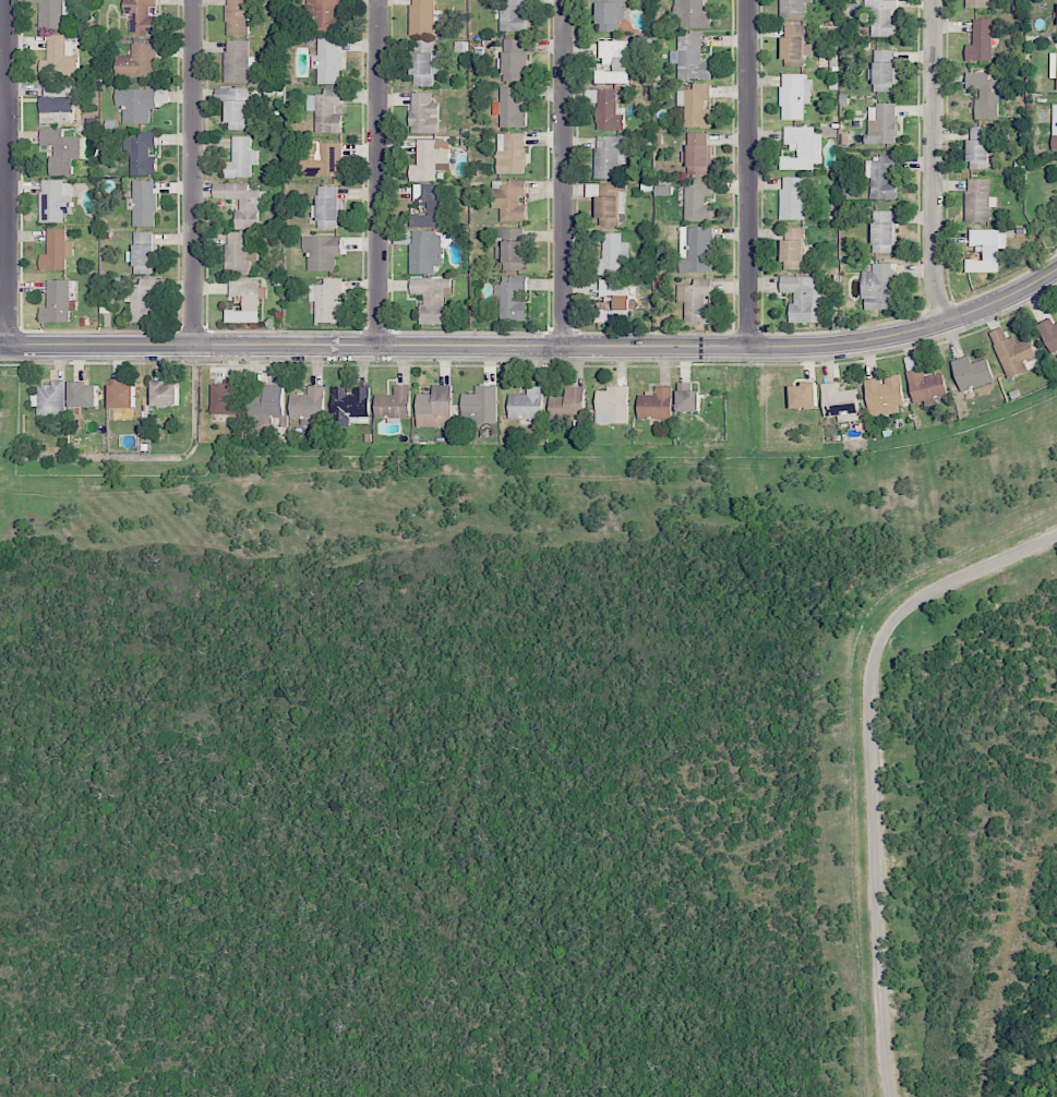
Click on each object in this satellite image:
building: (978, 3)
building: (793, 8)
building: (694, 12)
building: (52, 13)
building: (609, 13)
building: (323, 15)
building: (513, 15)
building: (141, 16)
building: (423, 16)
building: (881, 16)
building: (238, 17)
building: (981, 40)
building: (795, 41)
building: (60, 57)
building: (693, 58)
building: (514, 59)
building: (328, 60)
building: (139, 61)
building: (237, 61)
building: (616, 61)
building: (425, 62)
building: (1053, 67)
building: (884, 70)
building: (984, 94)
building: (794, 95)
building: (57, 103)
building: (136, 104)
building: (696, 105)
building: (236, 106)
building: (509, 108)
building: (326, 110)
building: (608, 110)
building: (423, 113)
building: (881, 123)
building: (1054, 125)
building: (803, 147)
building: (978, 147)
building: (61, 150)
building: (142, 153)
building: (512, 153)
building: (699, 153)
building: (610, 157)
building: (241, 158)
building: (322, 158)
building: (430, 159)
road: (933, 162)
road: (4, 173)
road: (192, 173)
road: (377, 174)
road: (747, 174)
road: (561, 176)
building: (881, 176)
building: (793, 197)
building: (509, 198)
building: (977, 198)
building: (56, 200)
building: (698, 201)
building: (241, 202)
building: (144, 203)
building: (430, 205)
building: (327, 207)
building: (608, 210)
building: (882, 231)
building: (793, 248)
building: (696, 249)
building: (56, 250)
building: (513, 250)
building: (425, 251)
building: (985, 251)
building: (143, 252)
building: (322, 252)
building: (238, 253)
building: (612, 254)
building: (880, 287)
building: (431, 298)
building: (511, 298)
building: (804, 298)
building: (142, 299)
building: (245, 300)
building: (327, 301)
building: (616, 301)
building: (696, 301)
building: (58, 302)
building: (1048, 333)
road: (536, 350)
building: (1013, 353)
building: (972, 373)
building: (926, 386)
building: (84, 394)
building: (165, 394)
building: (121, 395)
building: (804, 395)
building: (884, 396)
building: (226, 397)
building: (50, 398)
building: (688, 398)
building: (839, 399)
building: (308, 403)
building: (394, 403)
building: (527, 403)
building: (266, 405)
building: (350, 405)
building: (480, 405)
building: (567, 405)
building: (612, 405)
building: (656, 405)
building: (435, 407)
road: (873, 762)

